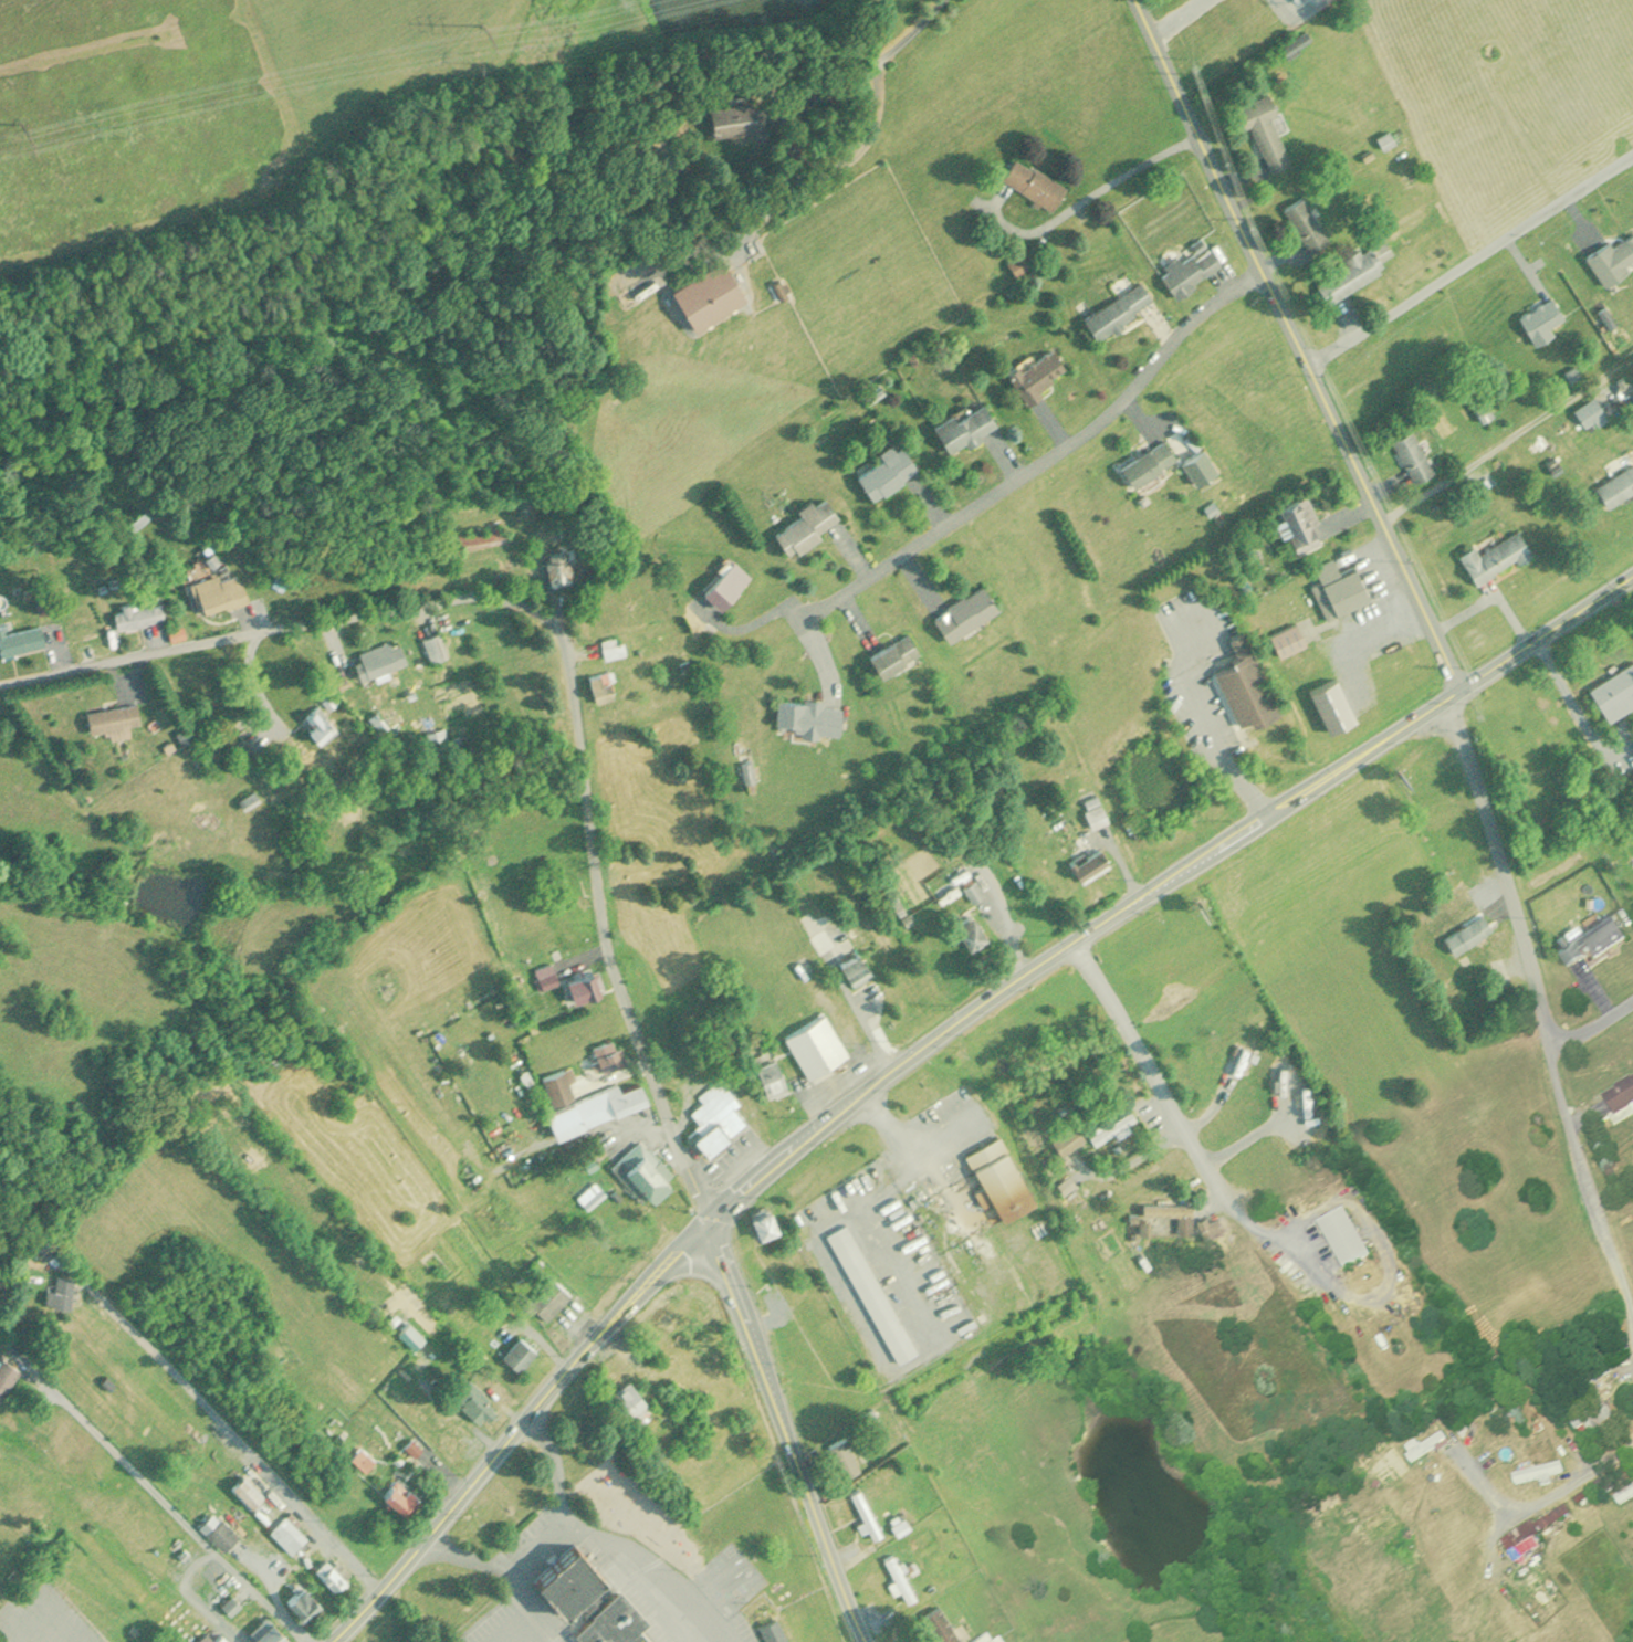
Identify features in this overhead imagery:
power substation: (1307, 9)
road: (1180, 18)
power tower: (498, 27)
power tower: (32, 129)
road: (868, 133)
road: (1090, 193)
road: (1472, 259)
road: (1301, 345)
road: (1045, 463)
road: (564, 648)
road: (1206, 725)
road: (1507, 866)
road: (1595, 1013)
road: (931, 1045)
road: (1181, 1125)
road: (1595, 1181)
road: (224, 1424)
road: (786, 1433)
road: (127, 1461)
road: (1548, 1499)
road: (549, 1538)
road: (214, 1555)
road: (655, 1567)
road: (523, 1601)

